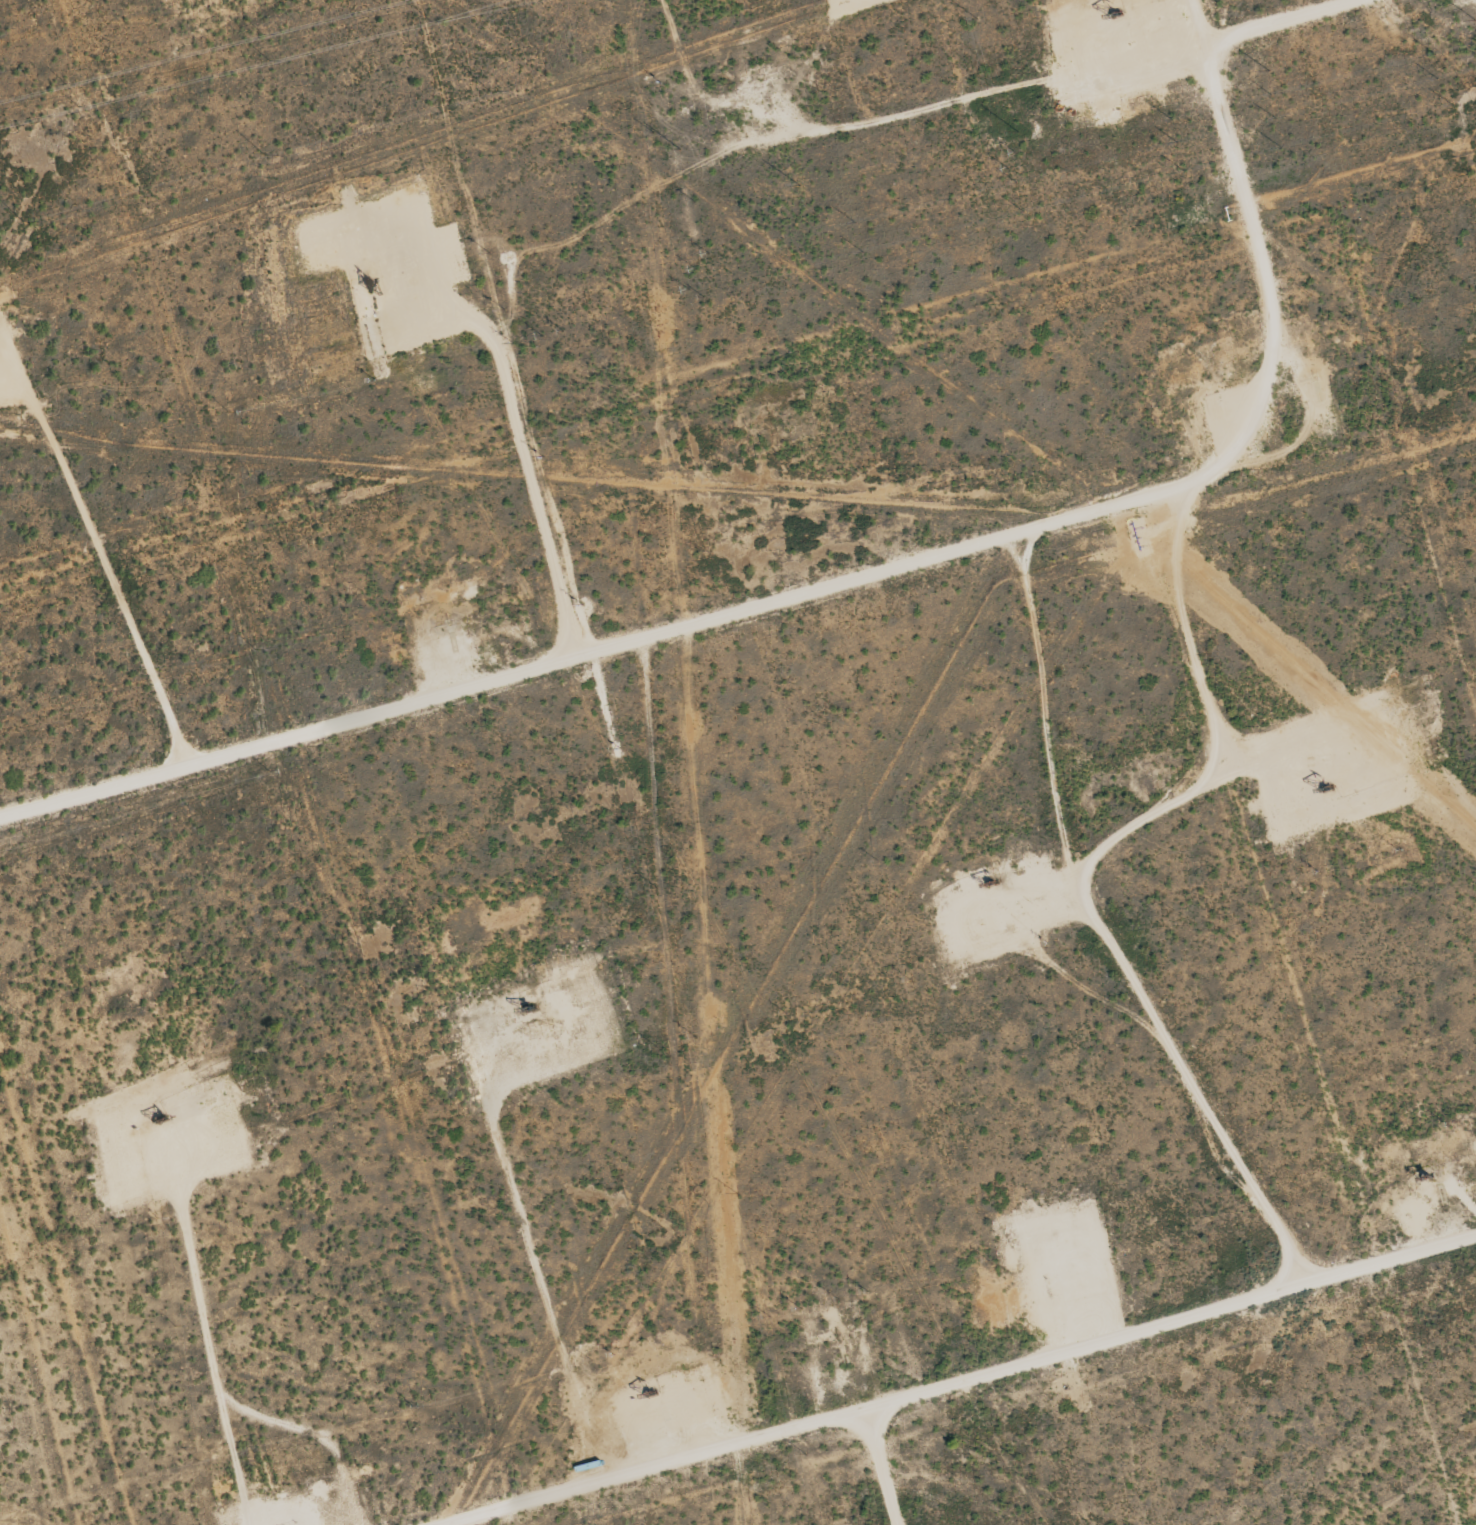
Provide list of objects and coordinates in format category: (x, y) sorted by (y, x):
road: (1279, 19)
power tower: (1475, 19)
power tower: (1267, 70)
power tower: (487, 91)
power tower: (1018, 131)
power tower: (680, 148)
power tower: (262, 153)
power tower: (800, 186)
power tower: (22, 220)
road: (844, 584)
petroleum well: (1319, 790)
petroleum well: (1425, 1173)
road: (962, 1379)
road: (882, 1467)

